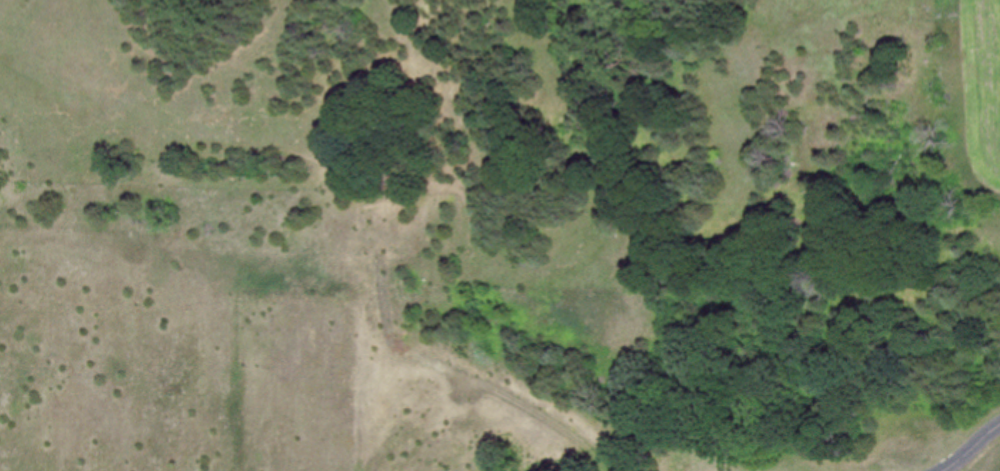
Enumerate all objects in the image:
road: (977, 454)

